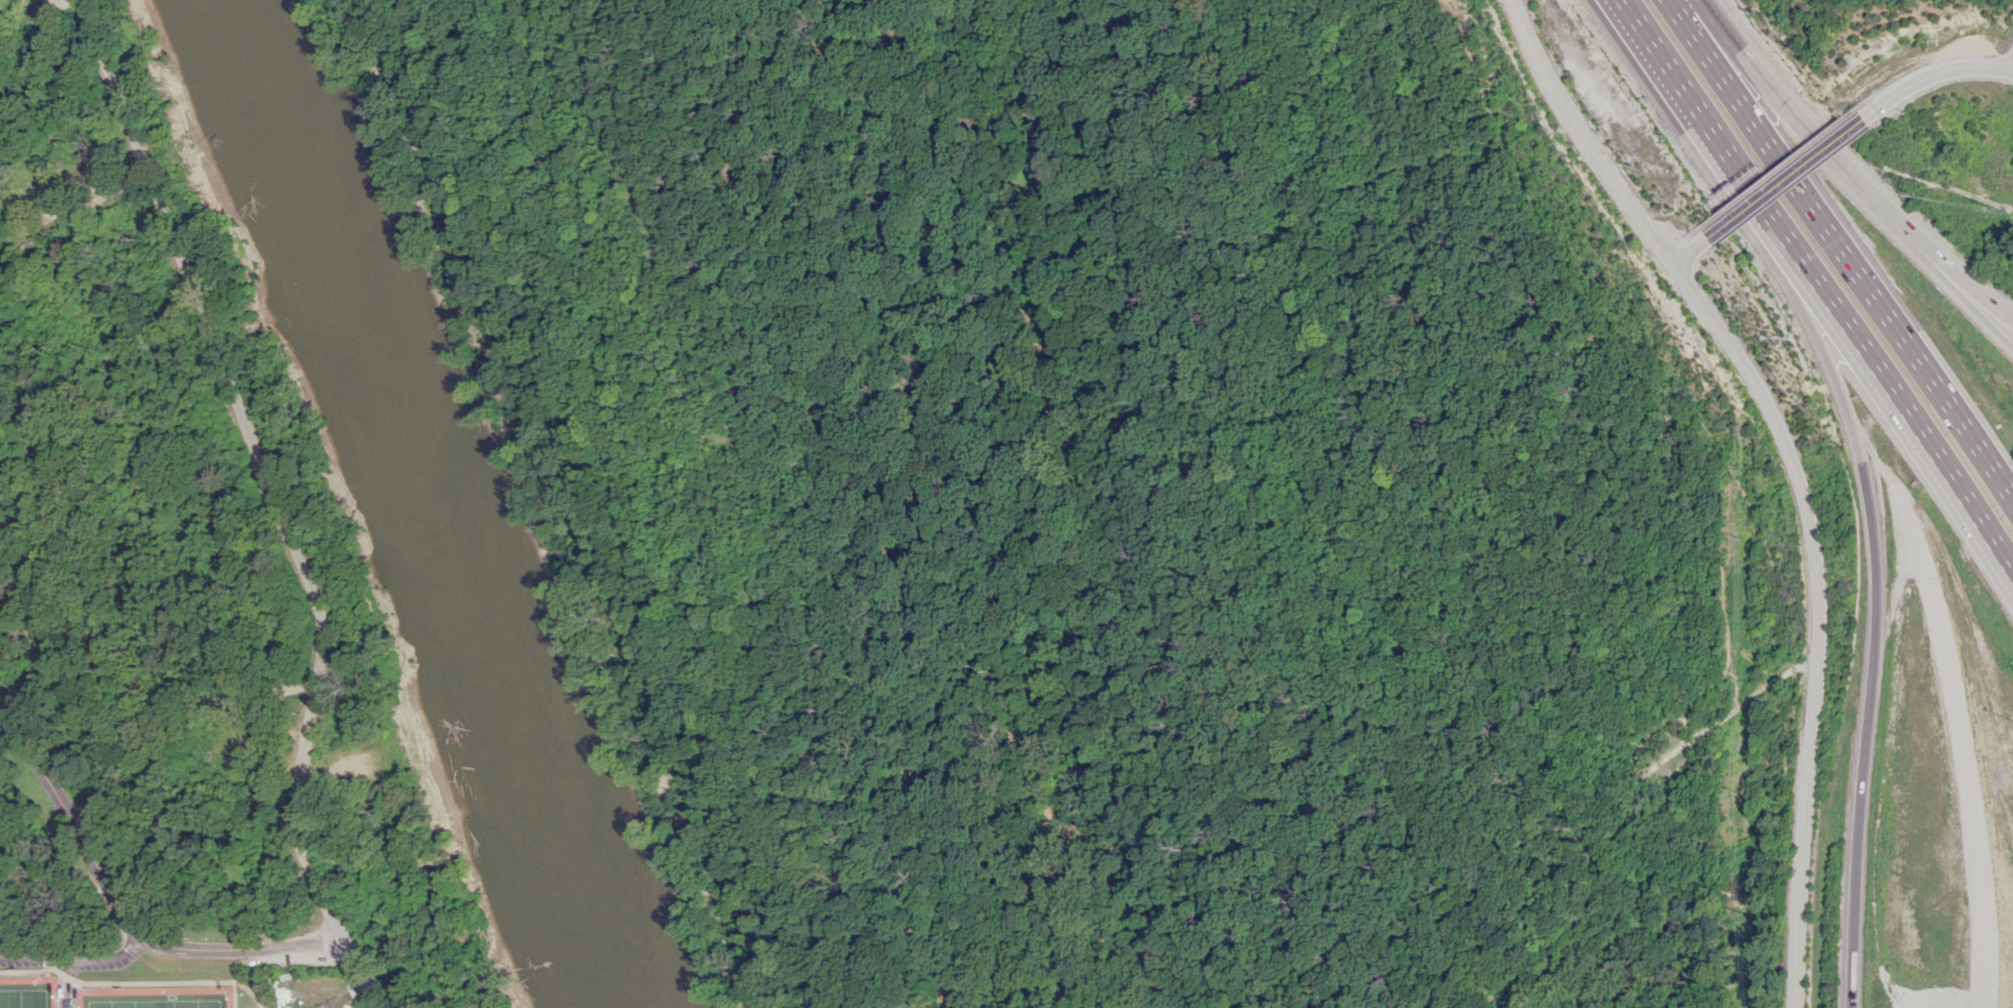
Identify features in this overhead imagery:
road: (1657, 1)
building: (24, 3)
road: (49, 8)
road: (1639, 42)
road: (1933, 75)
road: (1795, 124)
road: (1572, 135)
road: (1773, 167)
building: (93, 175)
road: (1781, 178)
road: (1529, 194)
building: (14, 197)
road: (79, 208)
road: (1835, 247)
road: (1680, 251)
road: (1970, 284)
road: (1967, 301)
road: (1841, 325)
road: (1155, 365)
road: (1083, 429)
road: (252, 445)
park: (1124, 499)
river: (436, 500)
road: (551, 505)
road: (744, 509)
road: (1903, 523)
road: (1488, 572)
road: (1325, 593)
road: (1805, 616)
road: (1782, 670)
building: (256, 719)
road: (1054, 719)
building: (359, 764)
road: (259, 771)
road: (319, 777)
road: (73, 823)
road: (1436, 847)
road: (335, 920)
road: (241, 945)
road: (794, 949)
road: (75, 960)
road: (999, 960)
road: (361, 972)
road: (746, 976)
road: (133, 983)
park: (26, 997)
park: (160, 1003)

